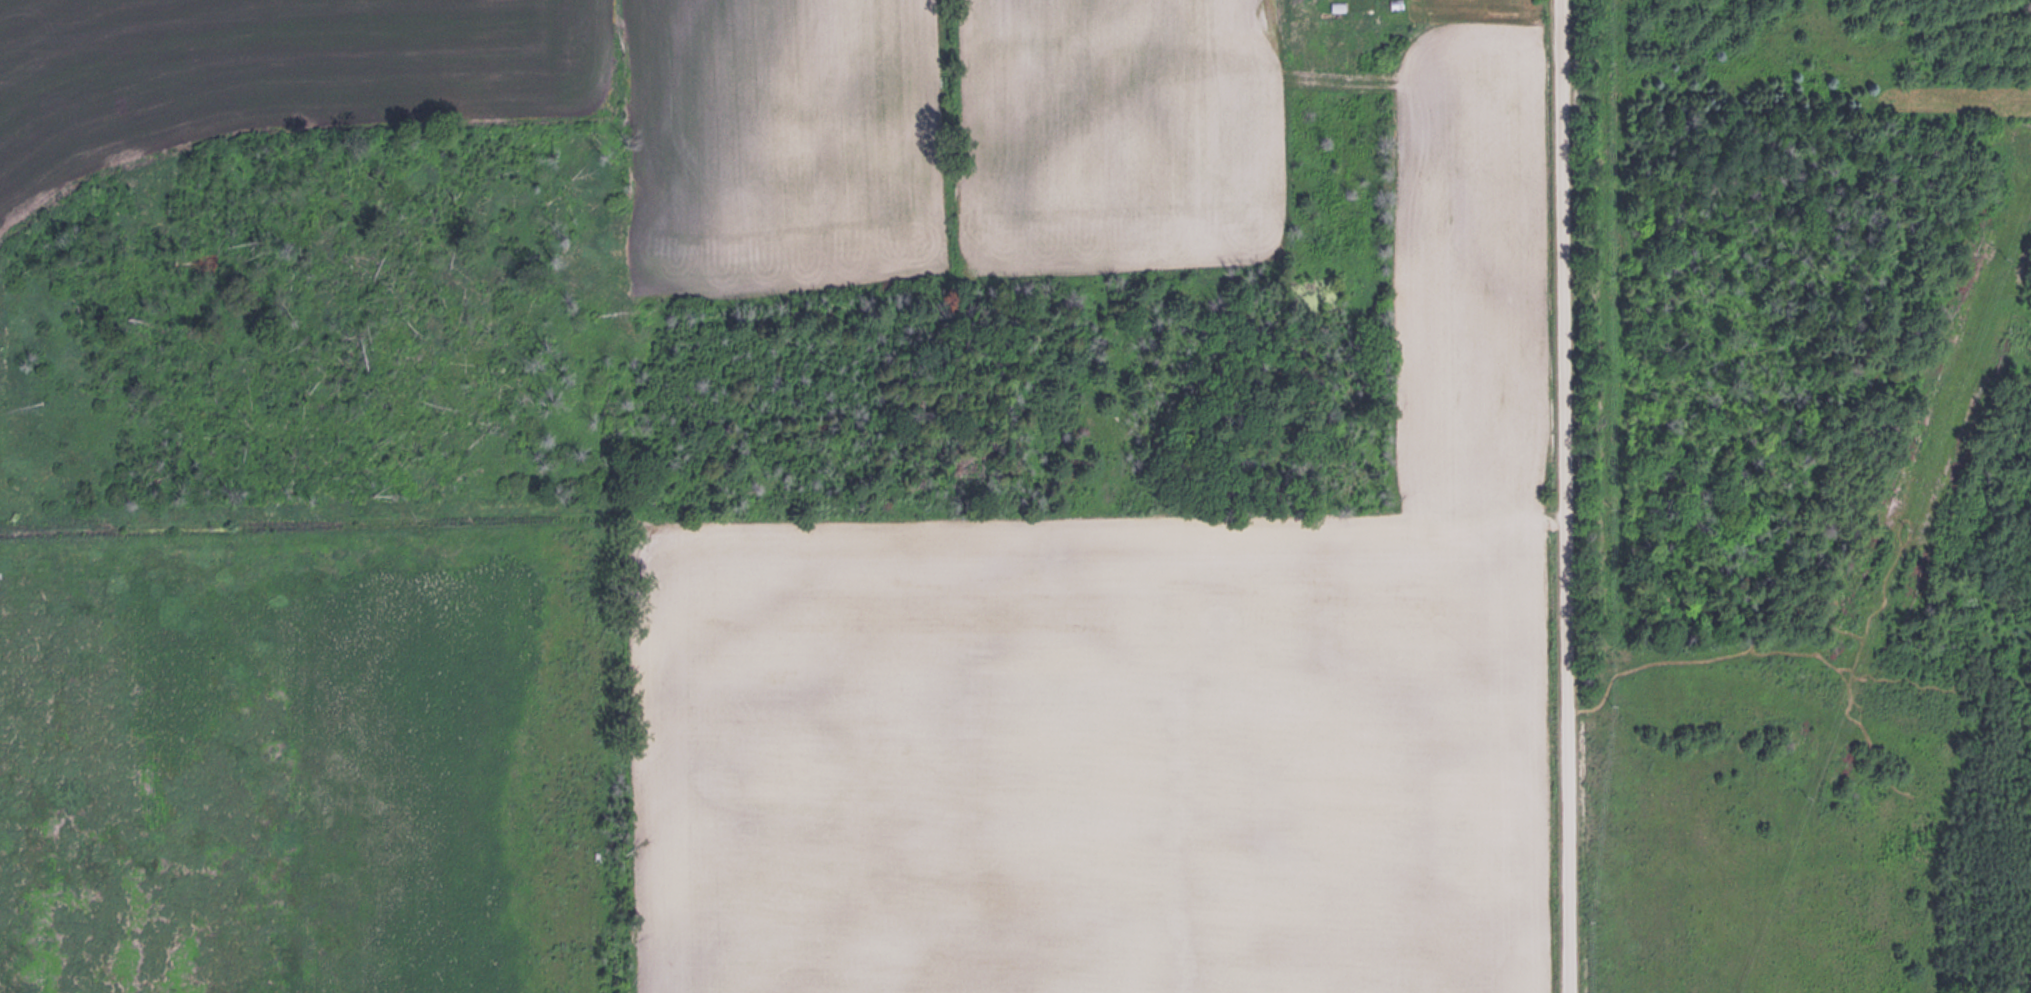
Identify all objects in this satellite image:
road: (1565, 496)

